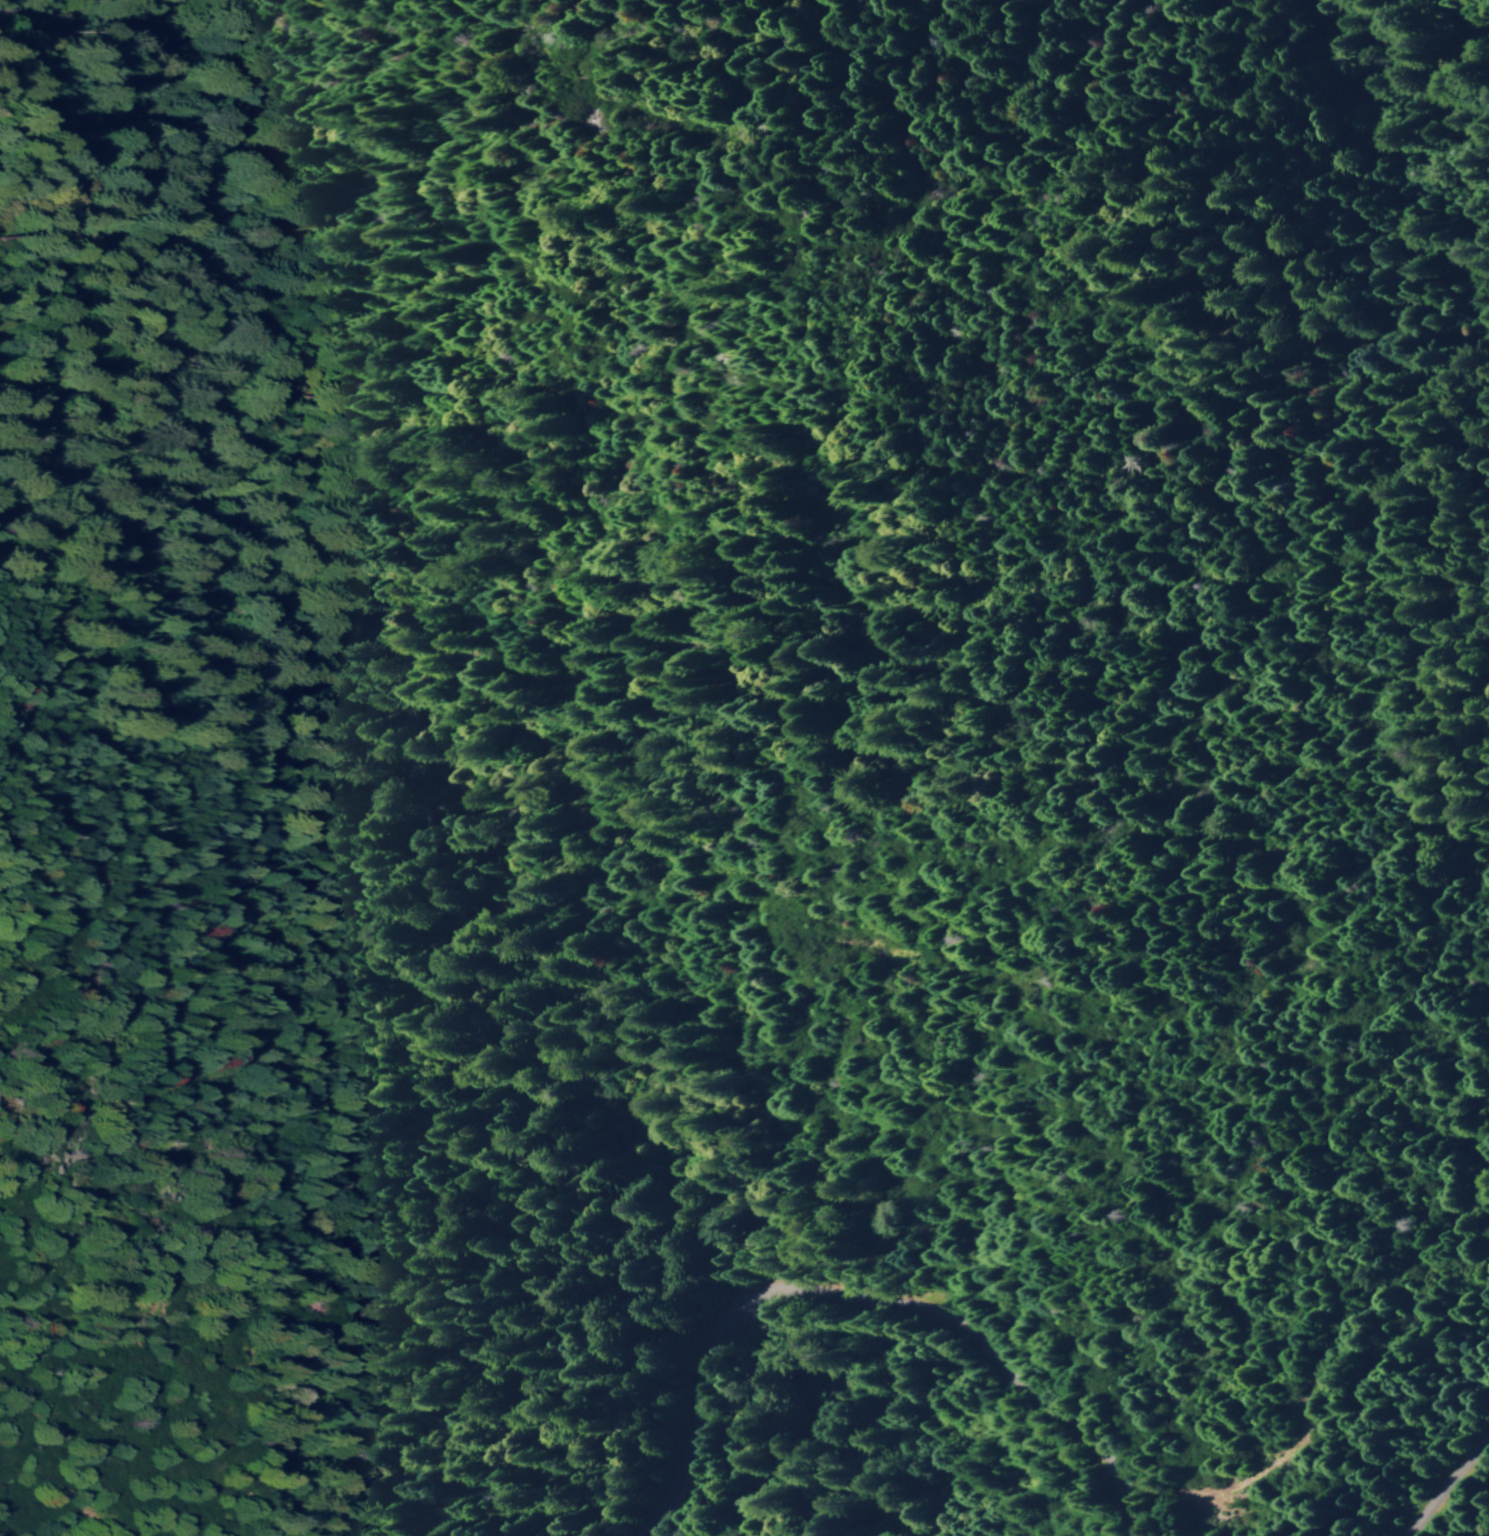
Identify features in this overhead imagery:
road: (865, 1286)
road: (1437, 1484)

